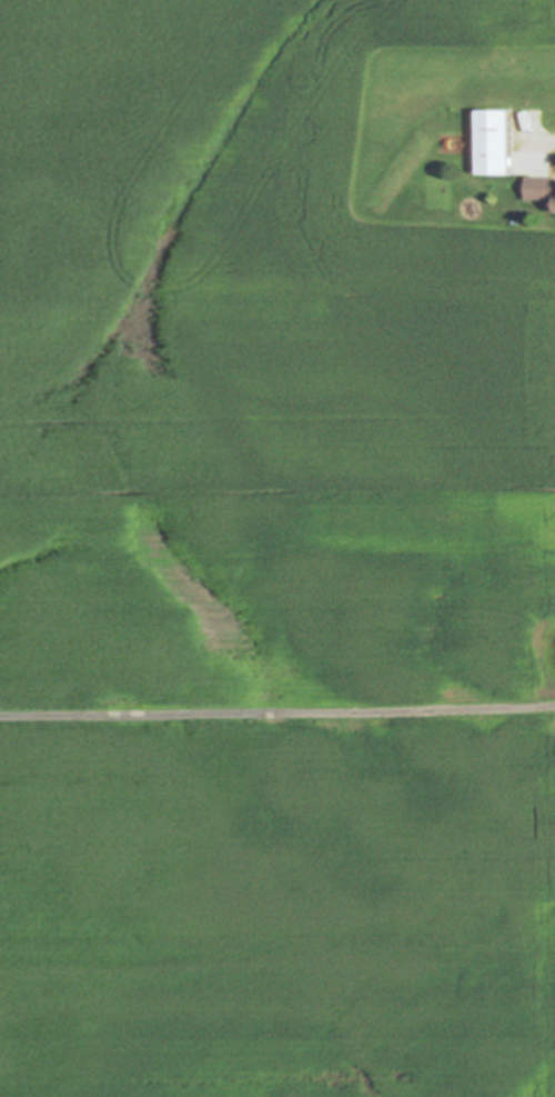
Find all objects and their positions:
building: (497, 142)
building: (542, 189)
road: (277, 709)

